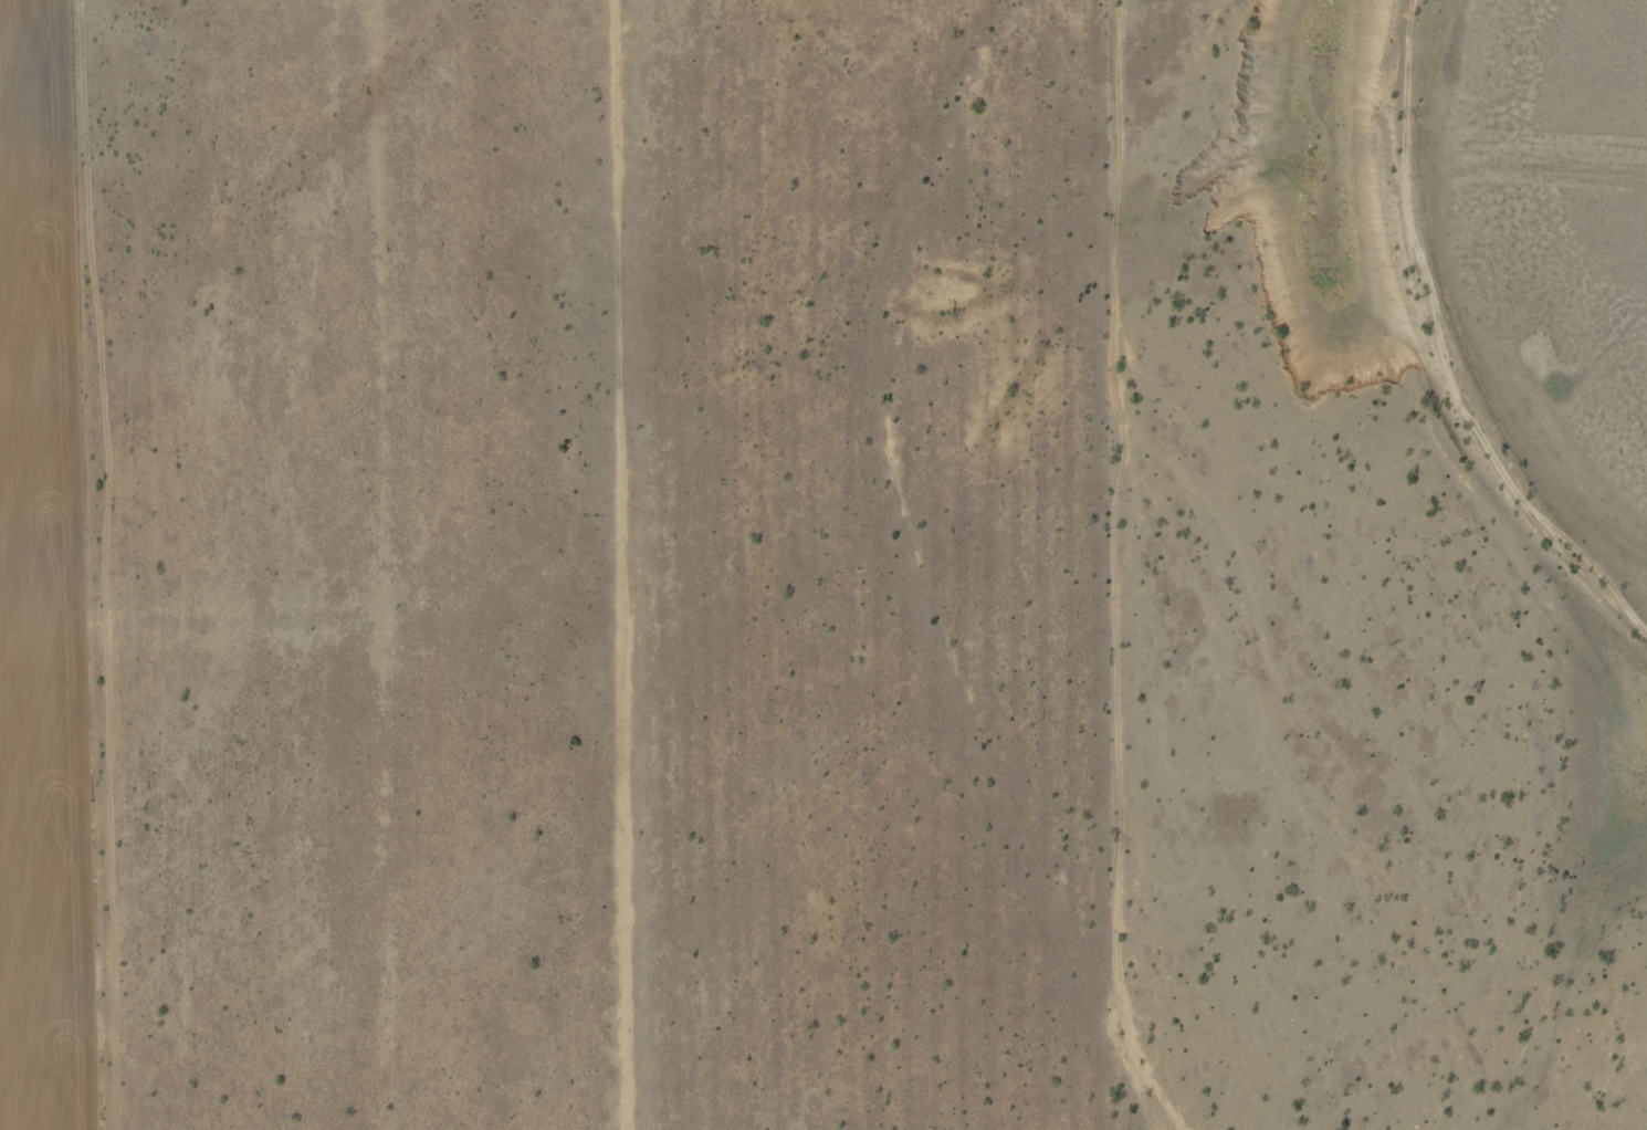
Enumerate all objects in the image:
road: (1468, 314)

